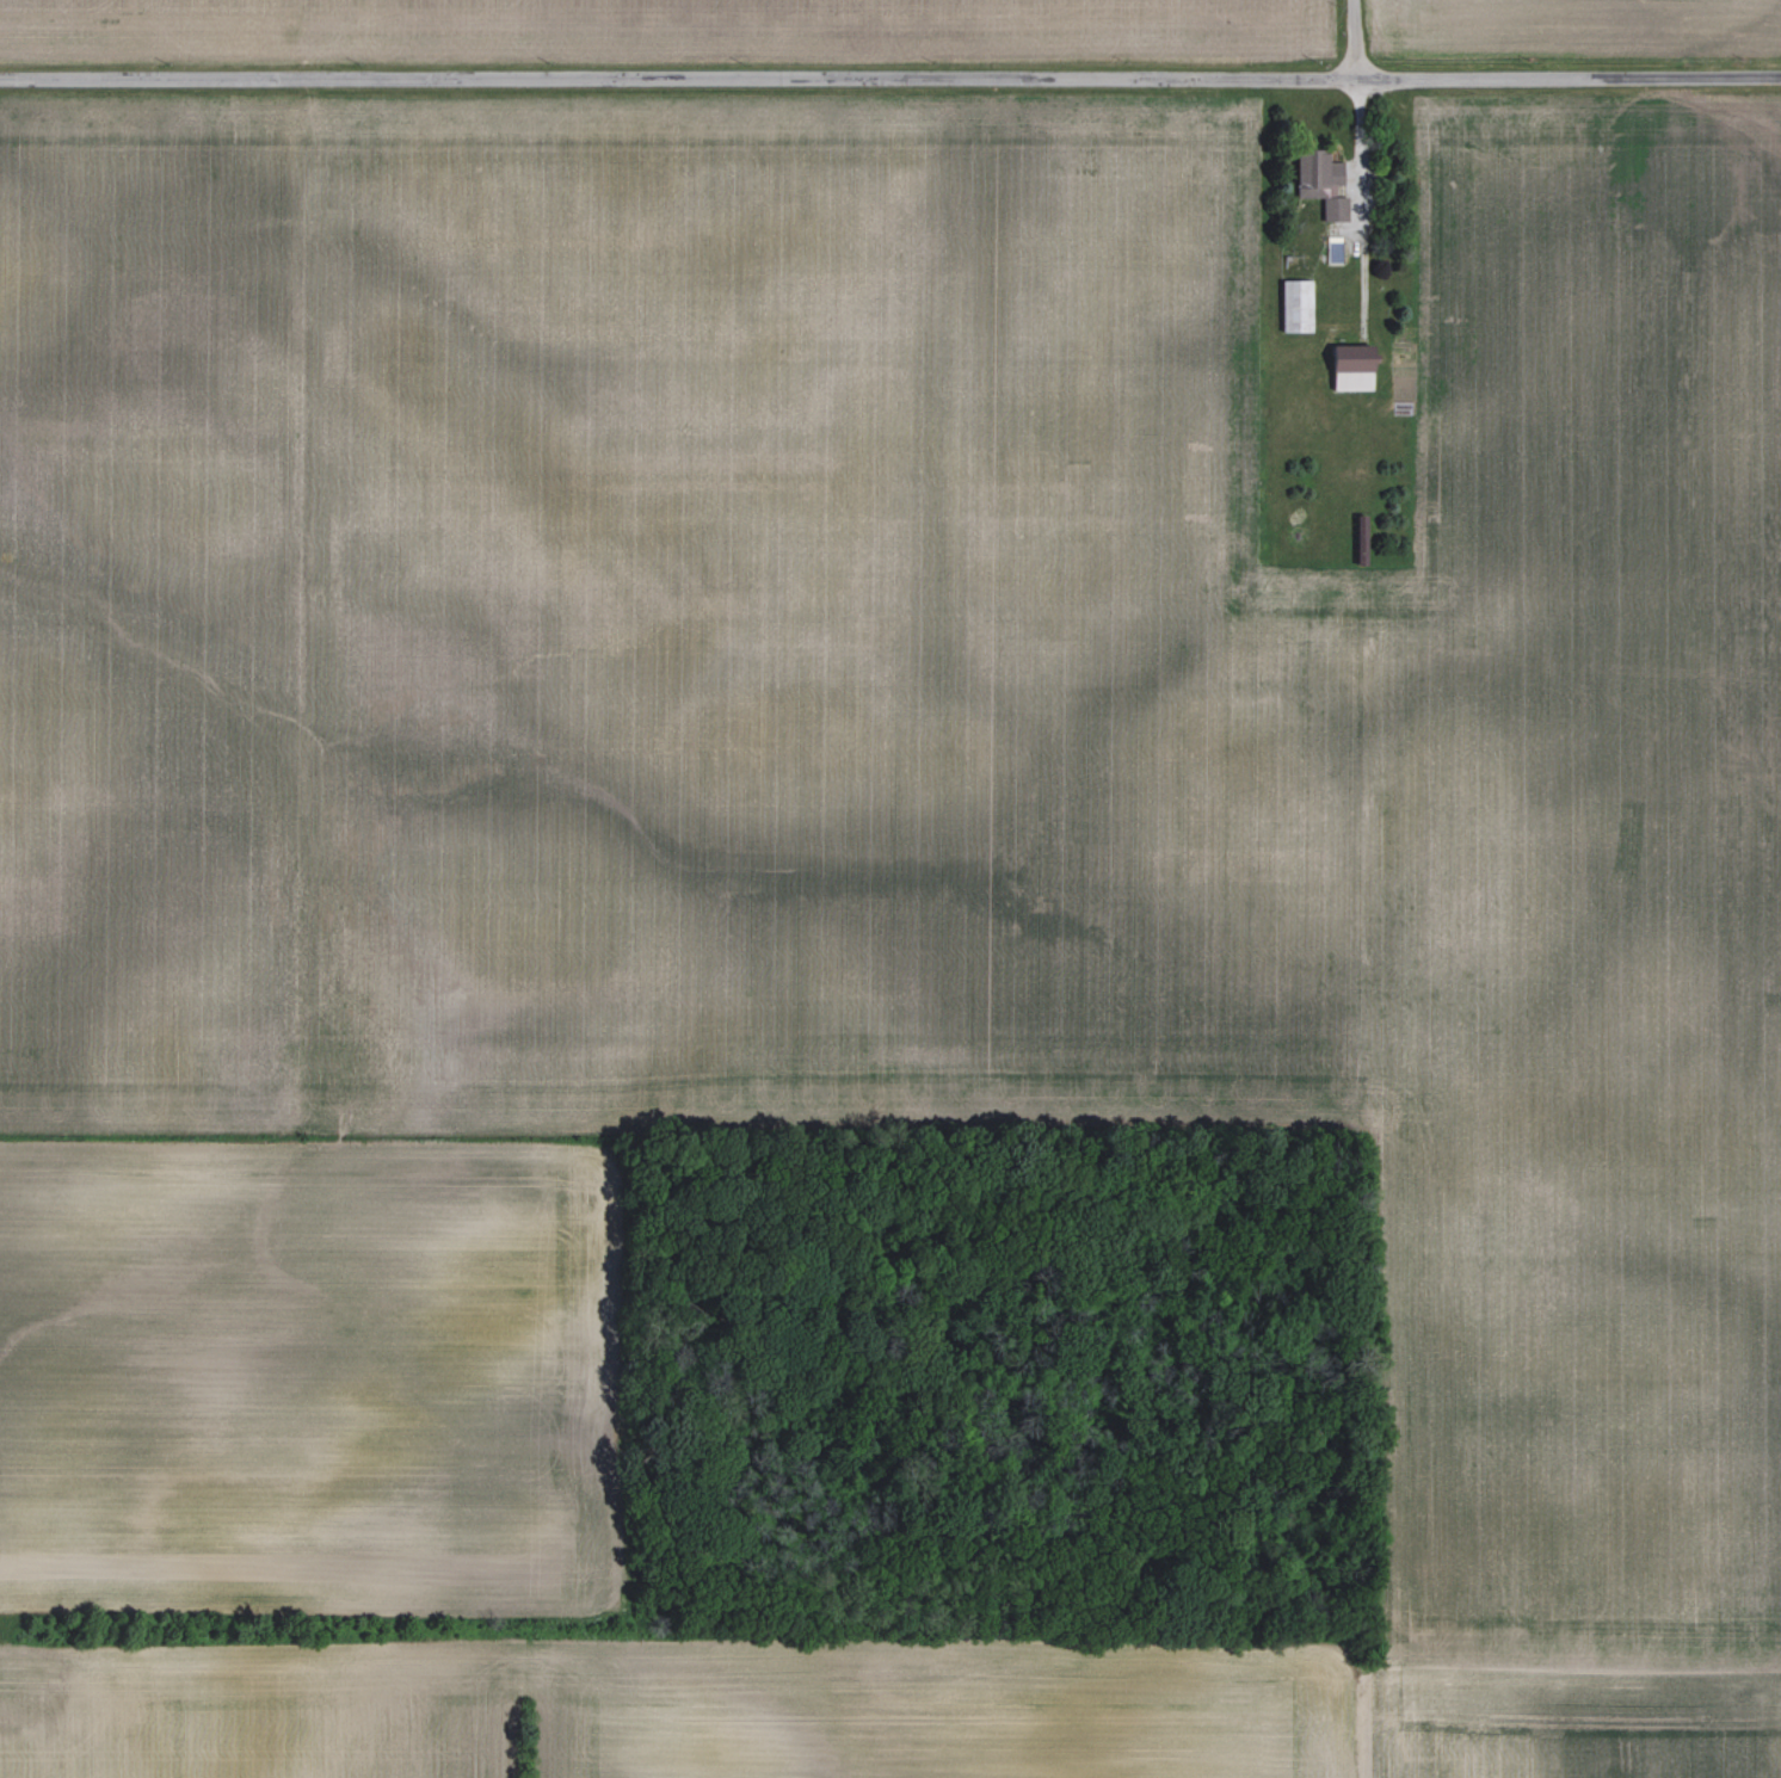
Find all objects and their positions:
road: (1346, 39)
road: (889, 79)
road: (1363, 154)
building: (1320, 181)
building: (1295, 304)
building: (1351, 366)

